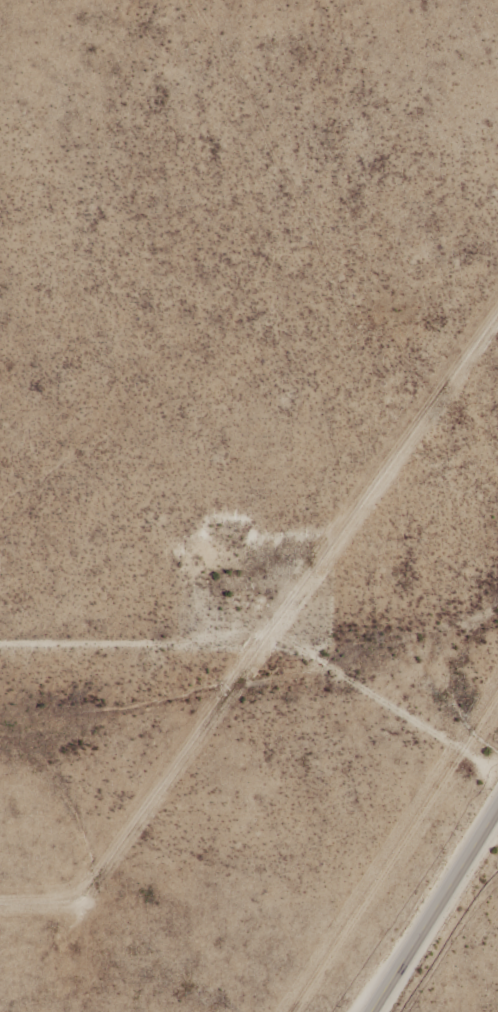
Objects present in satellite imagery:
road: (435, 911)

